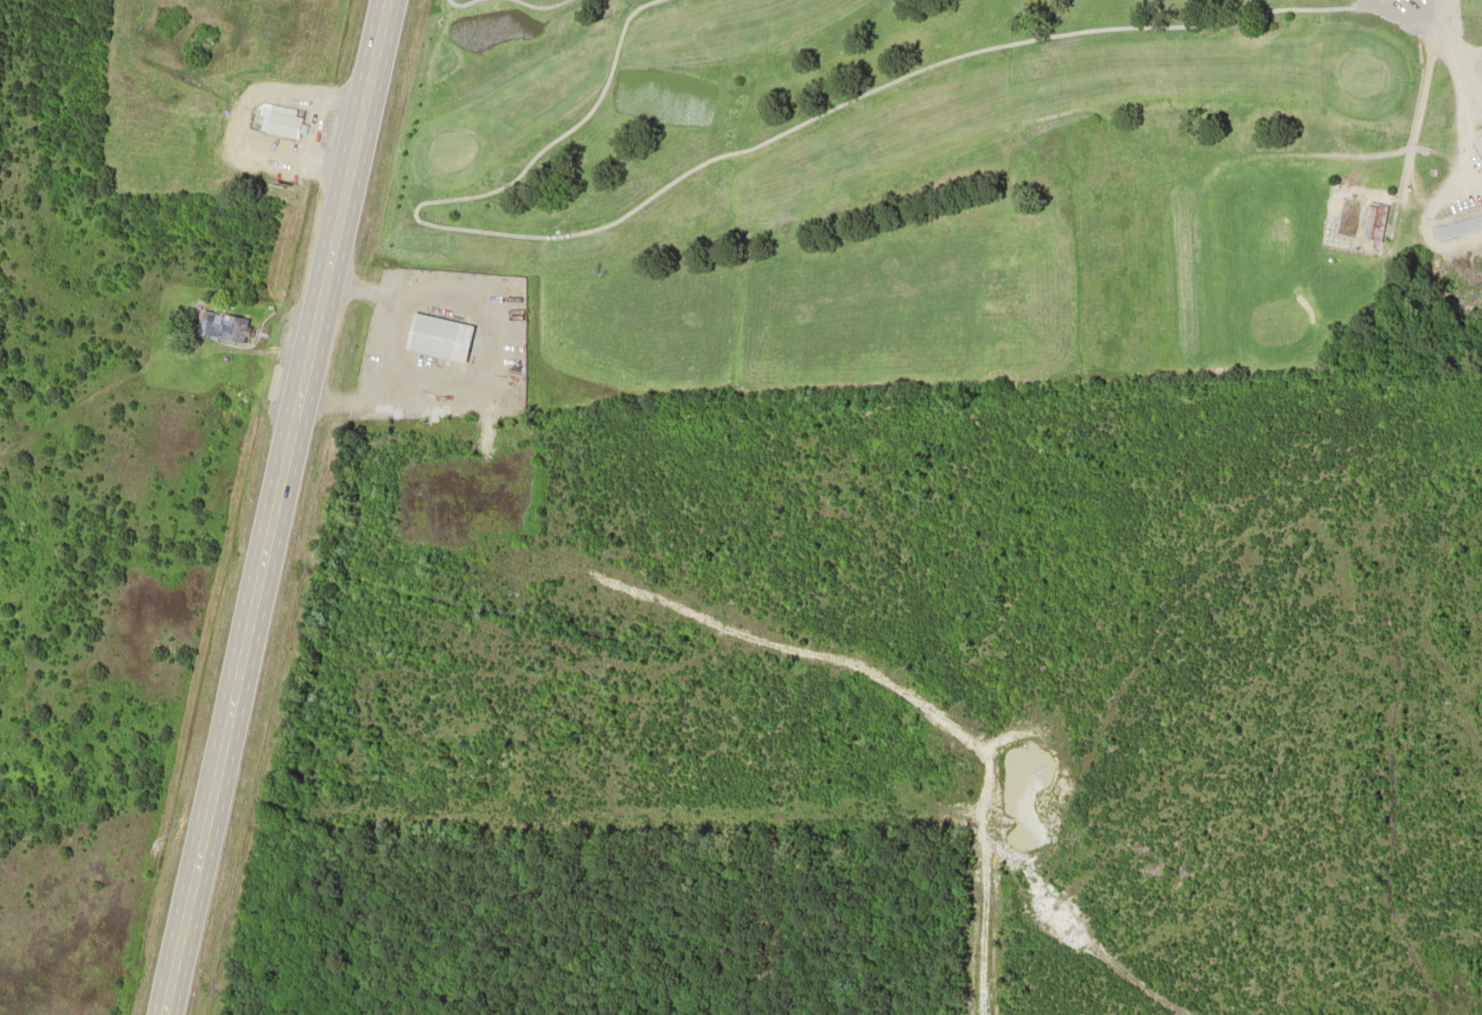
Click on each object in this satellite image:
road: (1436, 70)
building: (279, 121)
building: (1479, 141)
park: (949, 182)
building: (1372, 222)
building: (1456, 228)
building: (224, 328)
building: (437, 337)
road: (272, 507)

